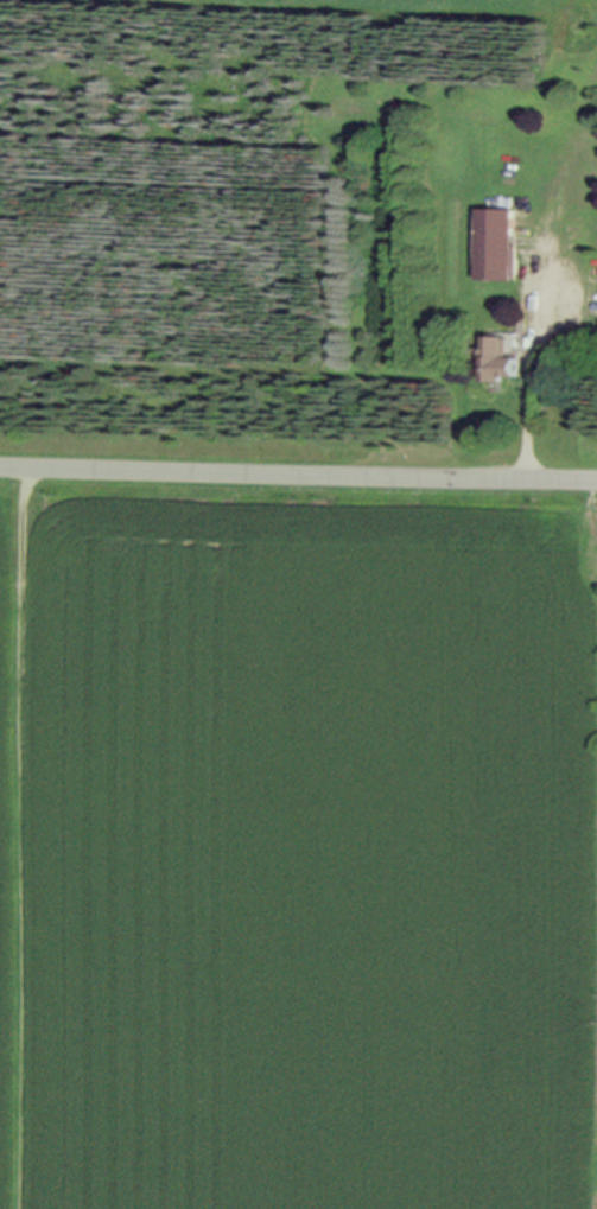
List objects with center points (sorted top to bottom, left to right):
building: (504, 240)
road: (551, 271)
building: (507, 355)
road: (298, 469)

